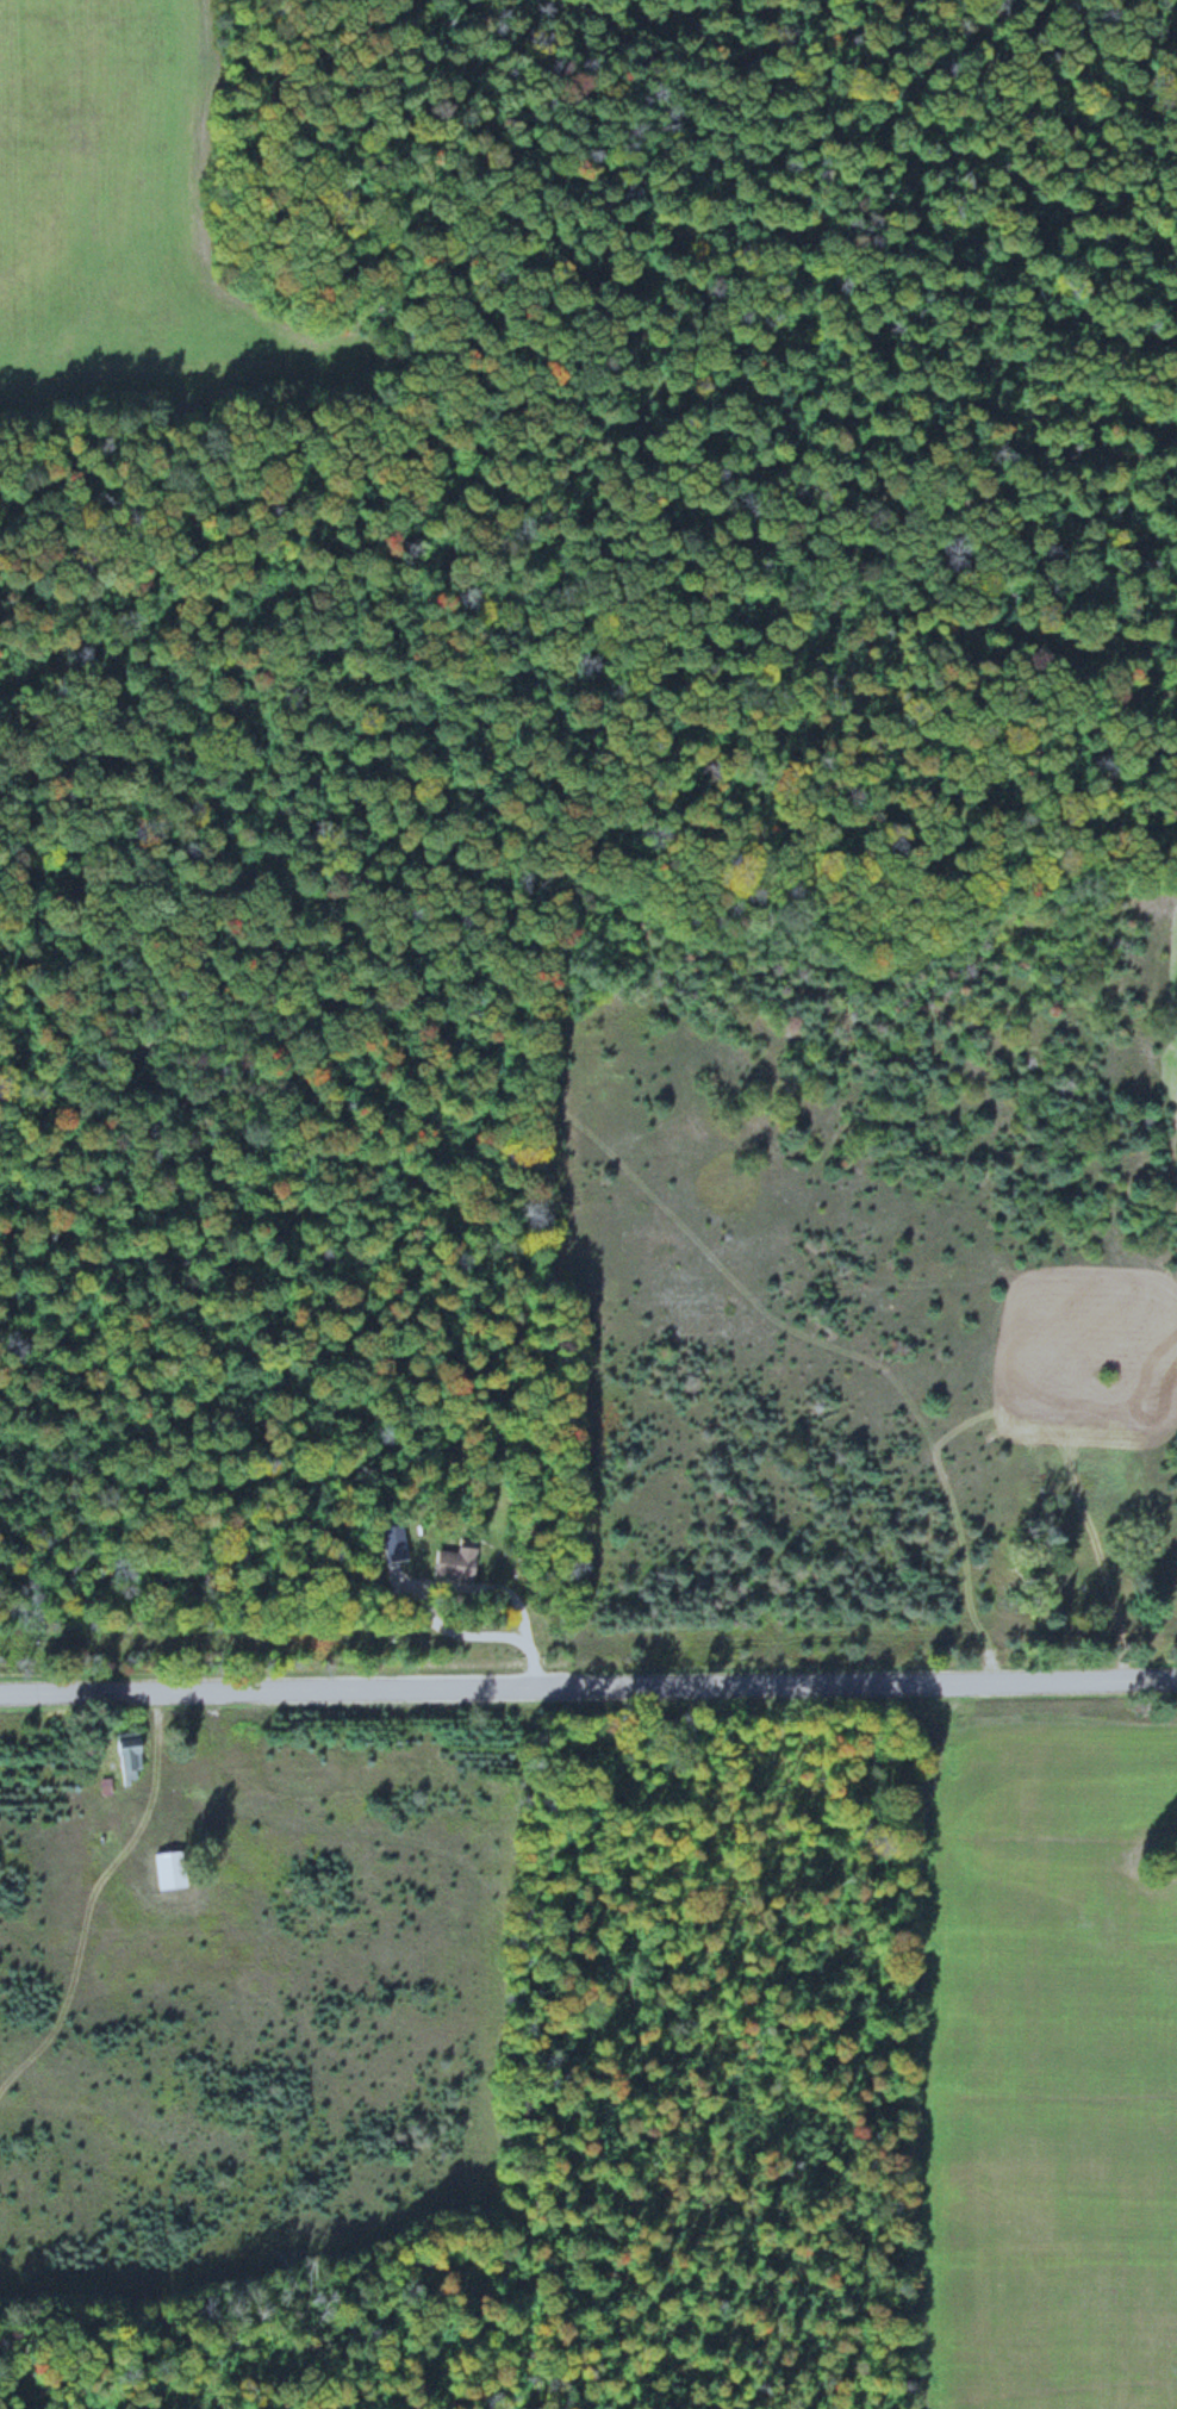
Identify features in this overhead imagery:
building: (1082, 1487)
building: (454, 1561)
building: (1057, 1595)
building: (1141, 1638)
road: (588, 1685)
building: (127, 1753)
building: (168, 1867)

